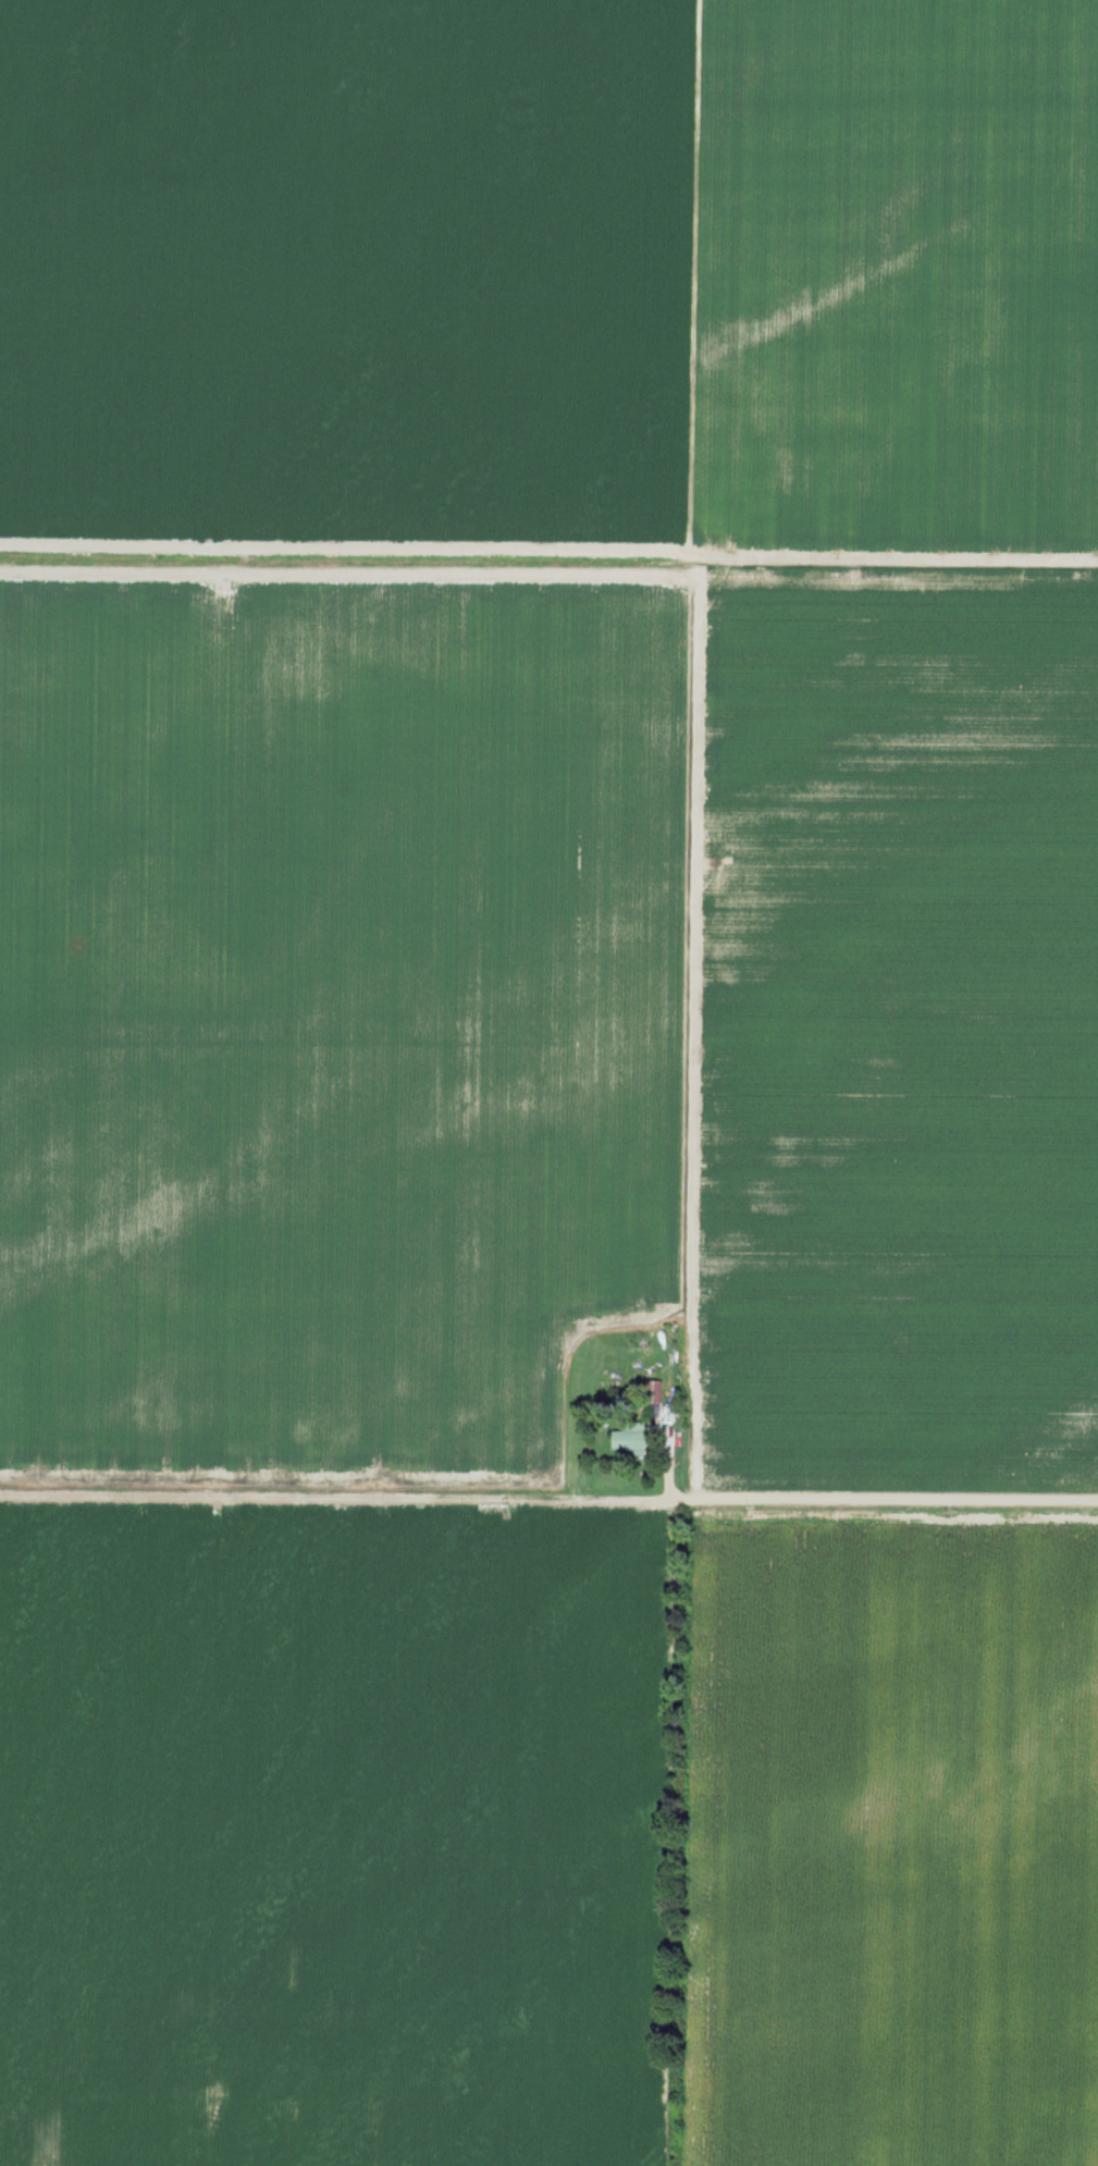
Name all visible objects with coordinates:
building: (627, 1441)
road: (548, 1502)

